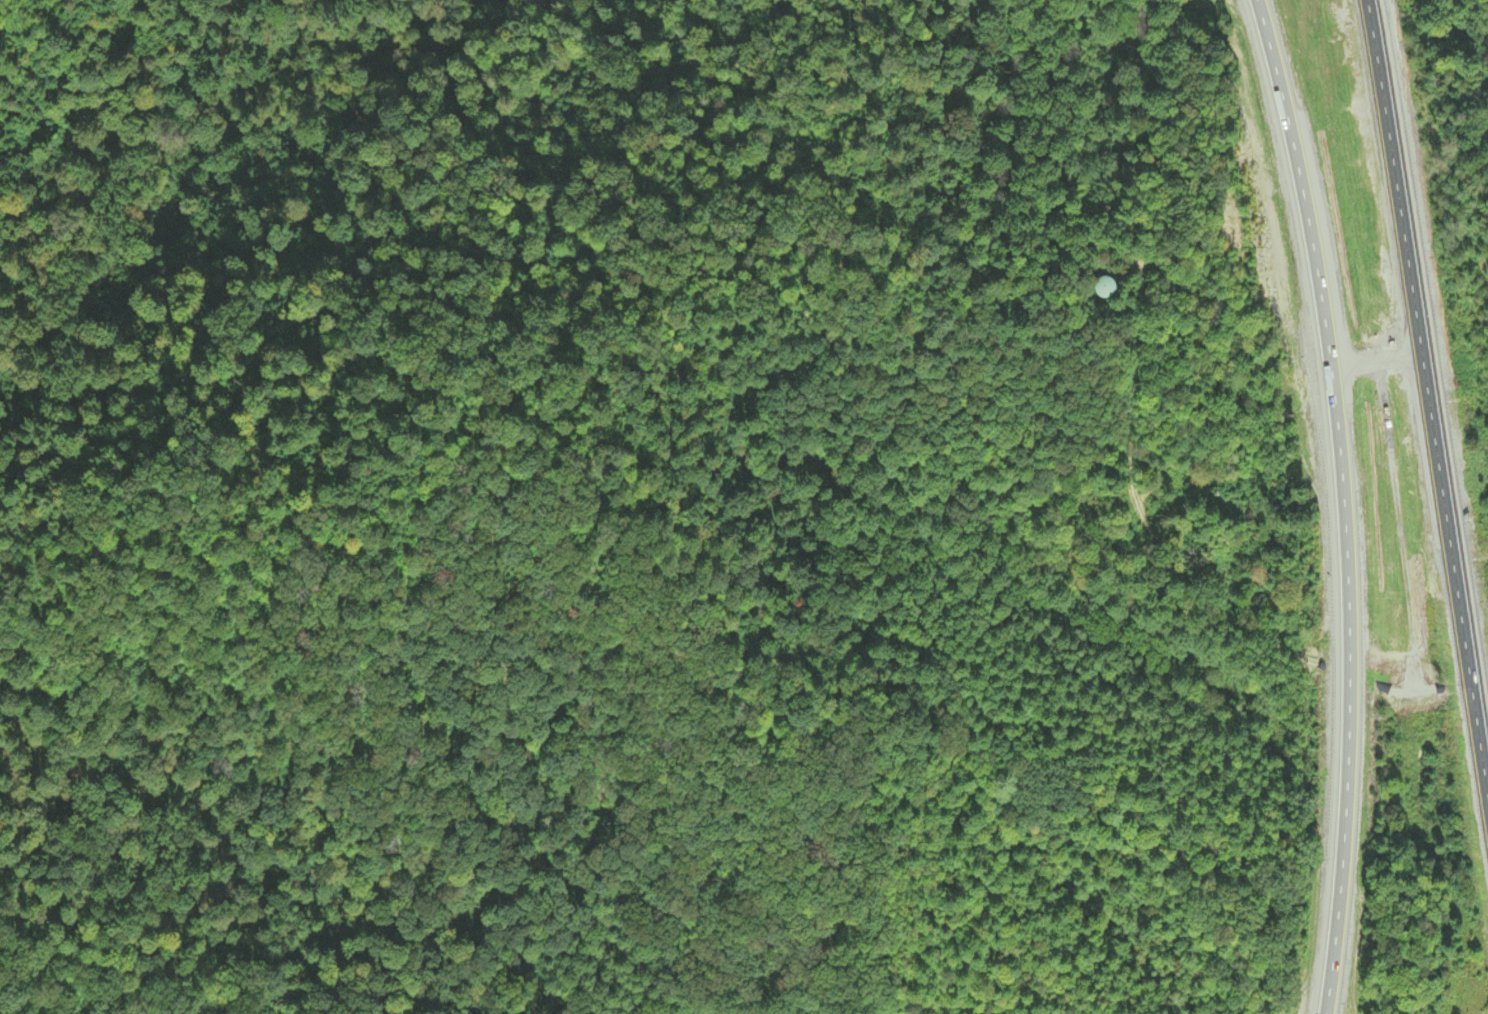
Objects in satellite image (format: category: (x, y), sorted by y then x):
building: (1098, 289)
road: (1377, 361)
road: (1431, 398)
road: (1342, 503)
road: (1400, 525)
road: (1417, 690)

